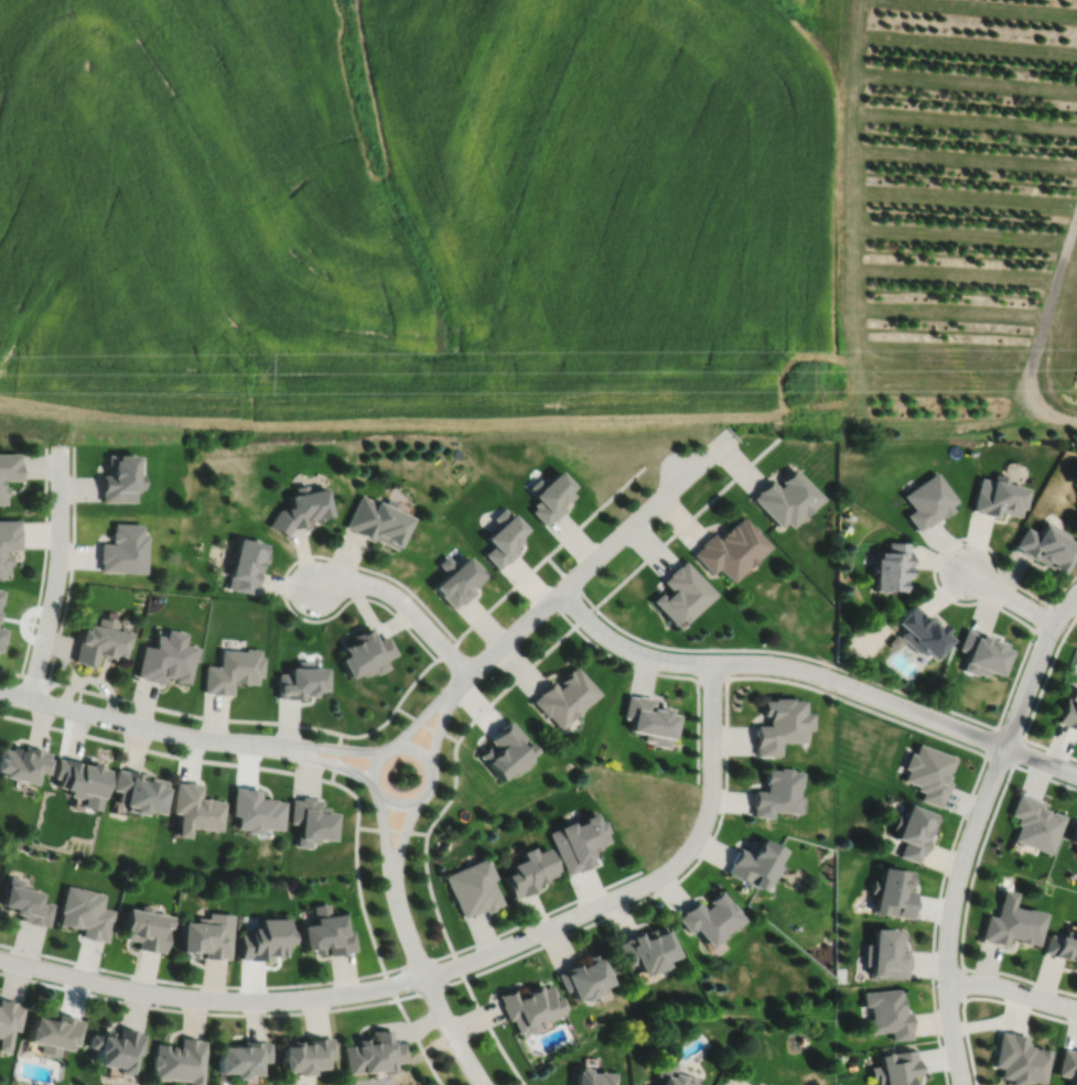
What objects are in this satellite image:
crop: (417, 220)
road: (1038, 333)
power tower: (786, 370)
power tower: (251, 372)
building: (9, 467)
building: (118, 479)
building: (2, 495)
building: (547, 497)
building: (995, 497)
building: (784, 499)
building: (928, 502)
building: (300, 510)
road: (686, 521)
building: (377, 522)
building: (502, 538)
building: (7, 542)
building: (1044, 546)
building: (729, 550)
building: (122, 551)
road: (939, 552)
road: (592, 561)
road: (44, 562)
road: (72, 564)
building: (244, 566)
building: (891, 568)
road: (57, 573)
road: (284, 578)
road: (570, 581)
building: (456, 583)
road: (517, 584)
road: (1063, 589)
building: (0, 592)
building: (679, 595)
road: (1011, 597)
road: (403, 604)
road: (583, 616)
building: (918, 631)
building: (1, 636)
building: (98, 643)
building: (978, 652)
road: (796, 654)
building: (365, 655)
building: (165, 660)
road: (1035, 668)
building: (231, 672)
road: (655, 673)
road: (815, 674)
road: (710, 677)
road: (514, 681)
building: (299, 683)
building: (562, 696)
road: (1036, 703)
building: (1068, 708)
road: (169, 710)
road: (422, 718)
building: (647, 719)
building: (777, 724)
road: (426, 725)
road: (725, 725)
road: (142, 726)
road: (439, 727)
road: (373, 730)
road: (336, 748)
building: (504, 750)
road: (164, 753)
road: (337, 758)
road: (712, 760)
building: (22, 761)
road: (332, 764)
building: (927, 772)
park: (401, 775)
building: (79, 779)
road: (429, 785)
building: (136, 790)
road: (453, 791)
building: (774, 792)
road: (356, 798)
building: (192, 807)
building: (254, 810)
building: (310, 820)
building: (1033, 824)
road: (391, 829)
building: (912, 831)
building: (1073, 833)
road: (385, 836)
road: (956, 836)
road: (400, 840)
building: (577, 840)
building: (1076, 851)
building: (753, 862)
building: (527, 870)
building: (472, 888)
road: (969, 888)
building: (892, 892)
road: (431, 894)
road: (362, 901)
building: (26, 902)
road: (548, 912)
road: (951, 912)
building: (85, 913)
building: (708, 918)
road: (561, 922)
building: (1010, 922)
building: (144, 927)
building: (326, 932)
building: (206, 935)
building: (263, 938)
building: (1062, 946)
building: (645, 950)
building: (885, 954)
road: (419, 963)
road: (459, 966)
building: (582, 977)
road: (191, 985)
road: (962, 985)
road: (390, 986)
road: (429, 986)
road: (430, 990)
road: (1012, 990)
road: (979, 998)
road: (212, 999)
building: (527, 1007)
road: (196, 1012)
building: (886, 1013)
building: (8, 1021)
building: (53, 1033)
road: (492, 1033)
road: (418, 1042)
building: (114, 1049)
building: (373, 1053)
building: (304, 1055)
building: (240, 1059)
building: (1015, 1060)
building: (176, 1062)
building: (1067, 1066)
building: (895, 1068)
building: (588, 1078)
building: (677, 1079)

